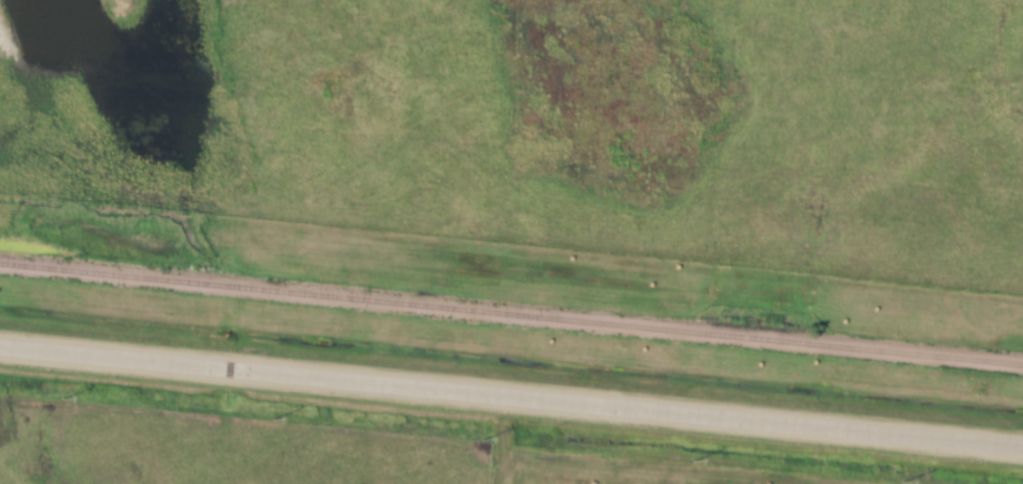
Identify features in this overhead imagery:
railway: (511, 314)
road: (511, 395)

